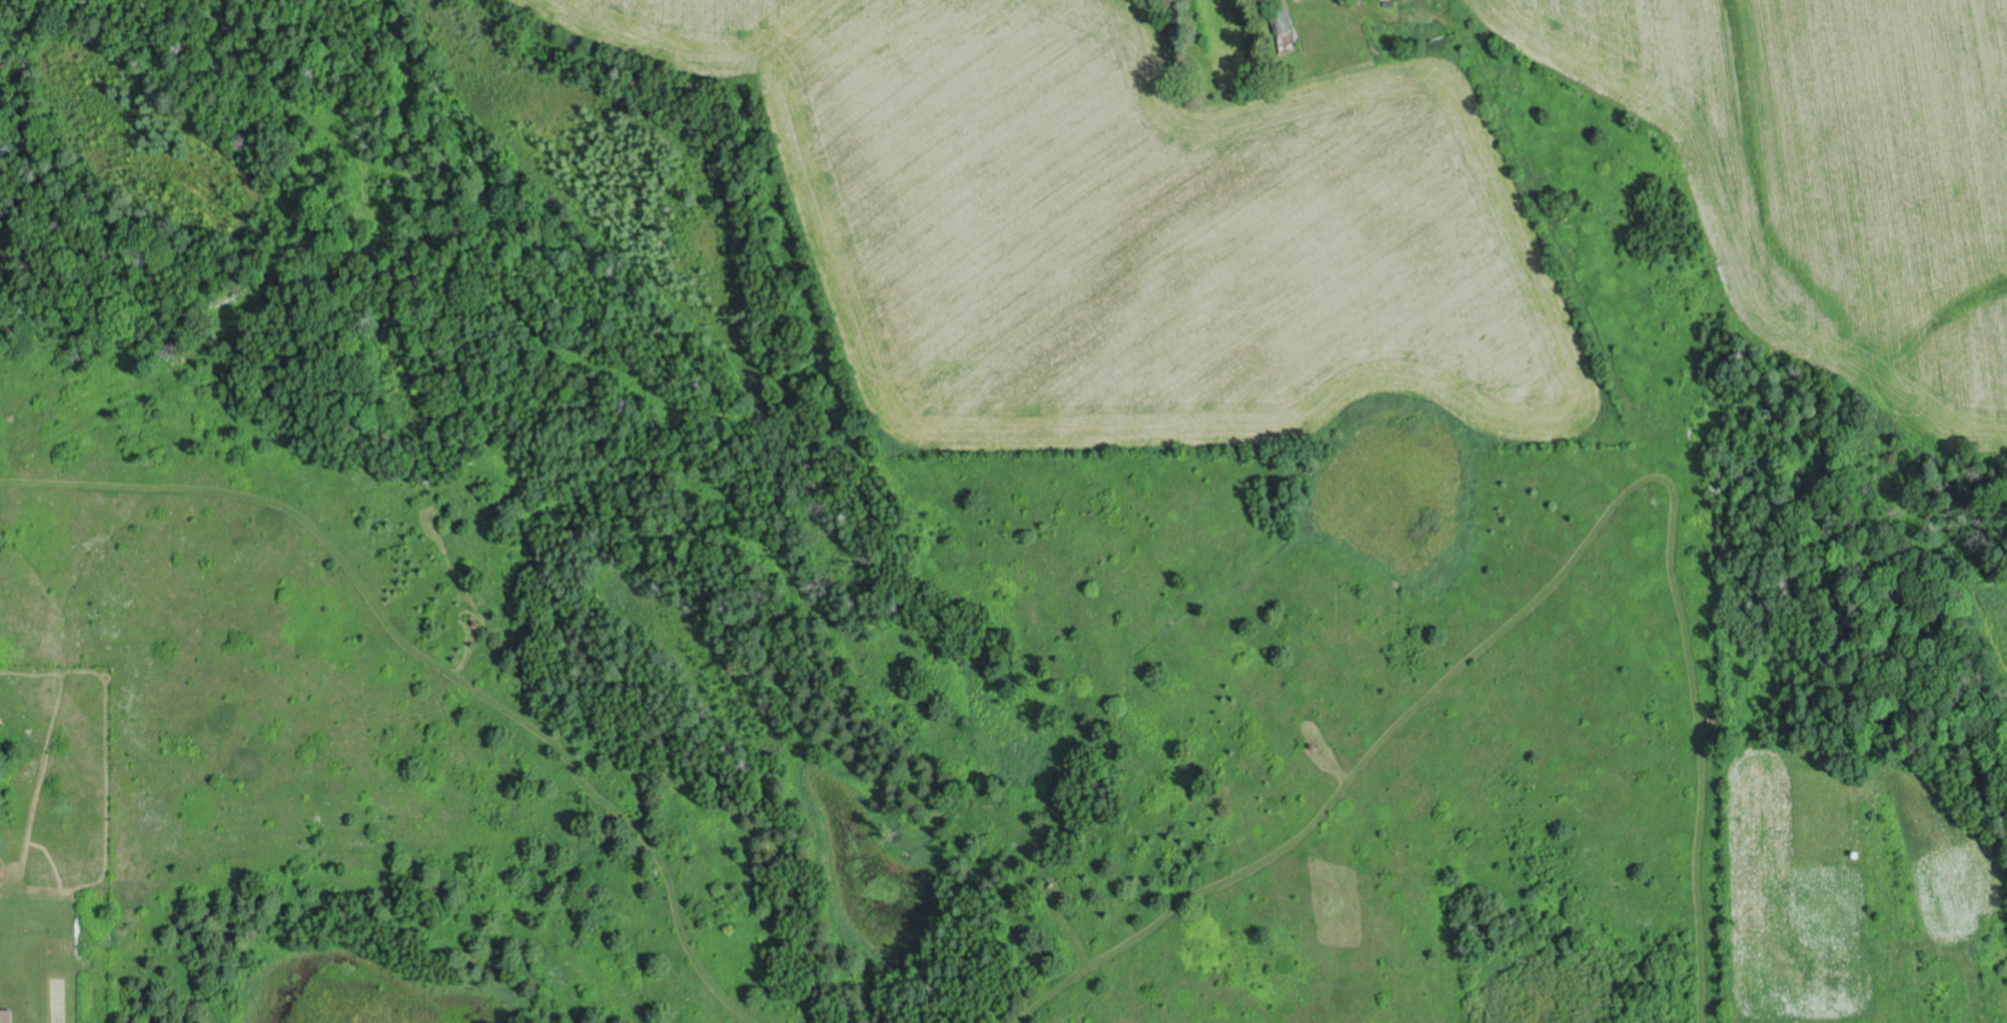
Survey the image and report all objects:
building: (8, 1016)

